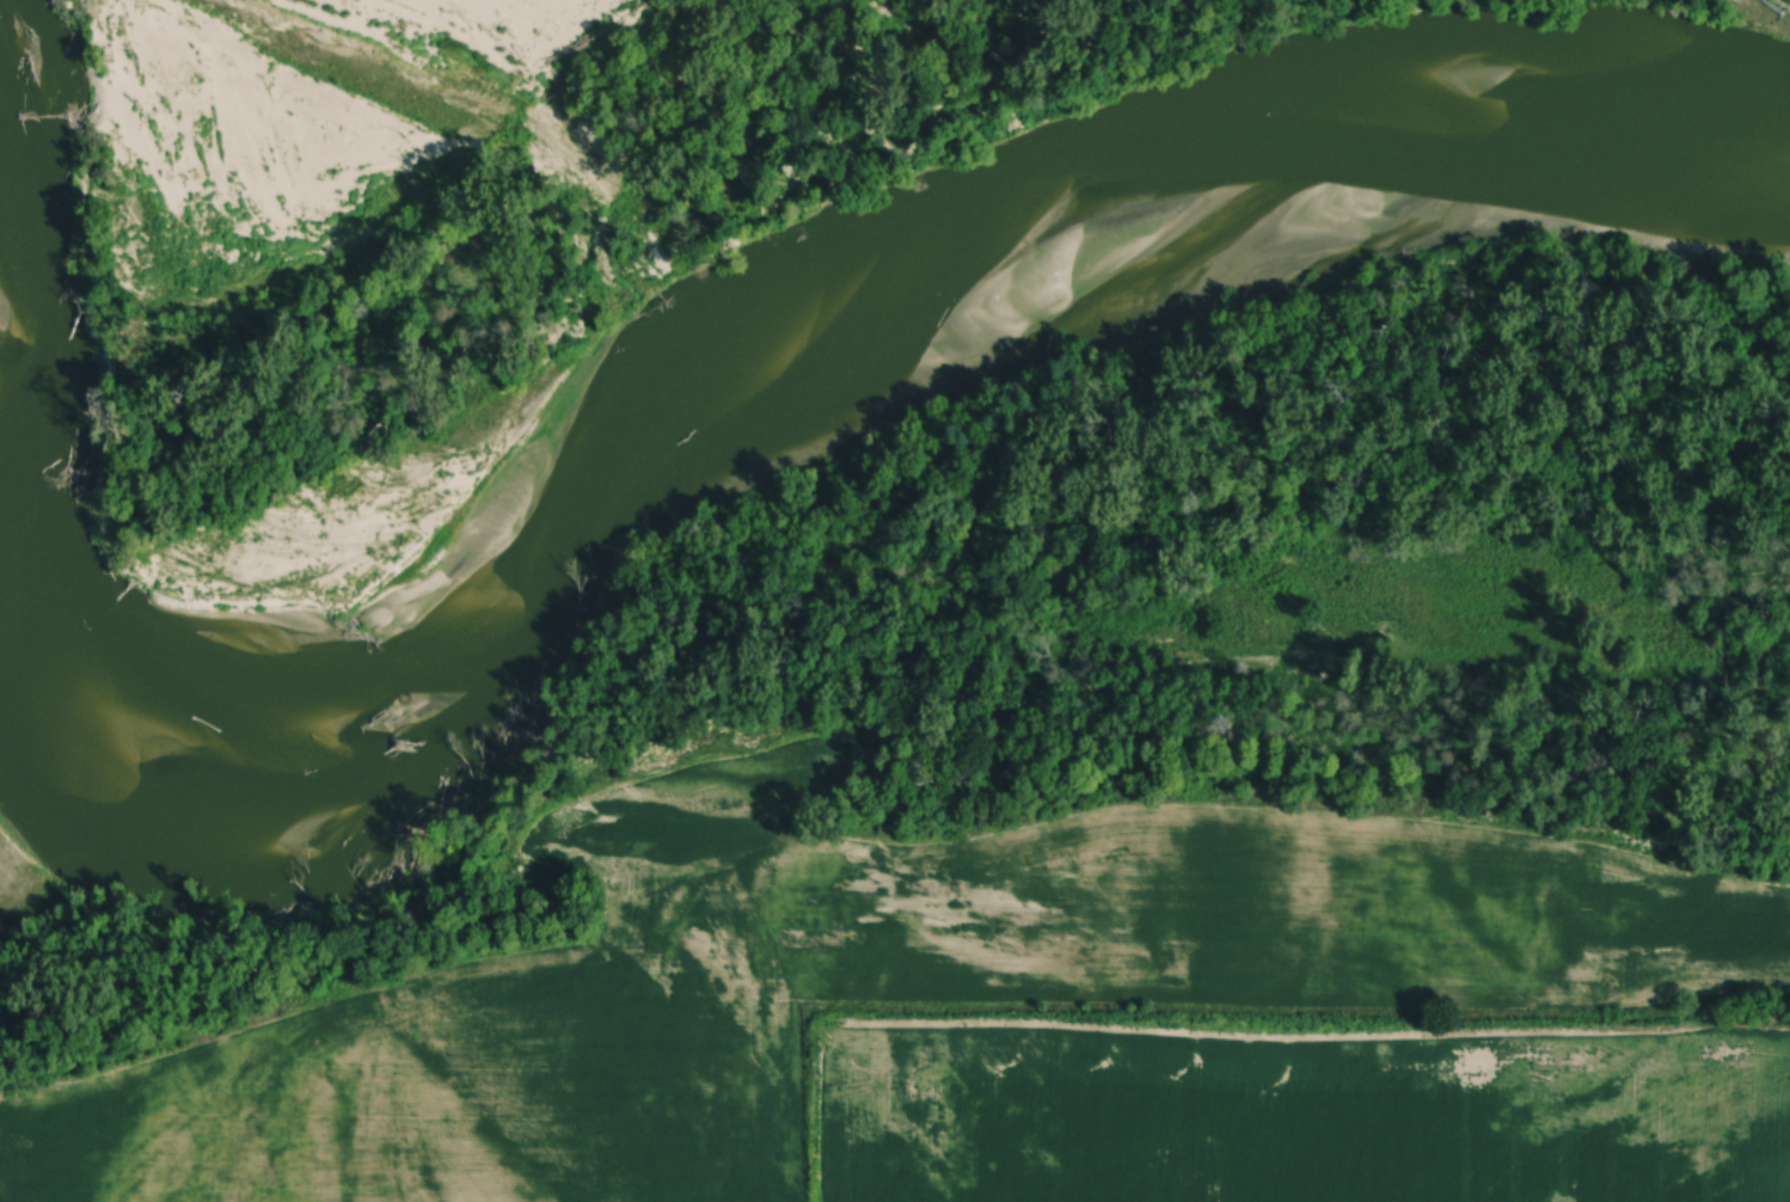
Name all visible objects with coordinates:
river: (833, 286)

